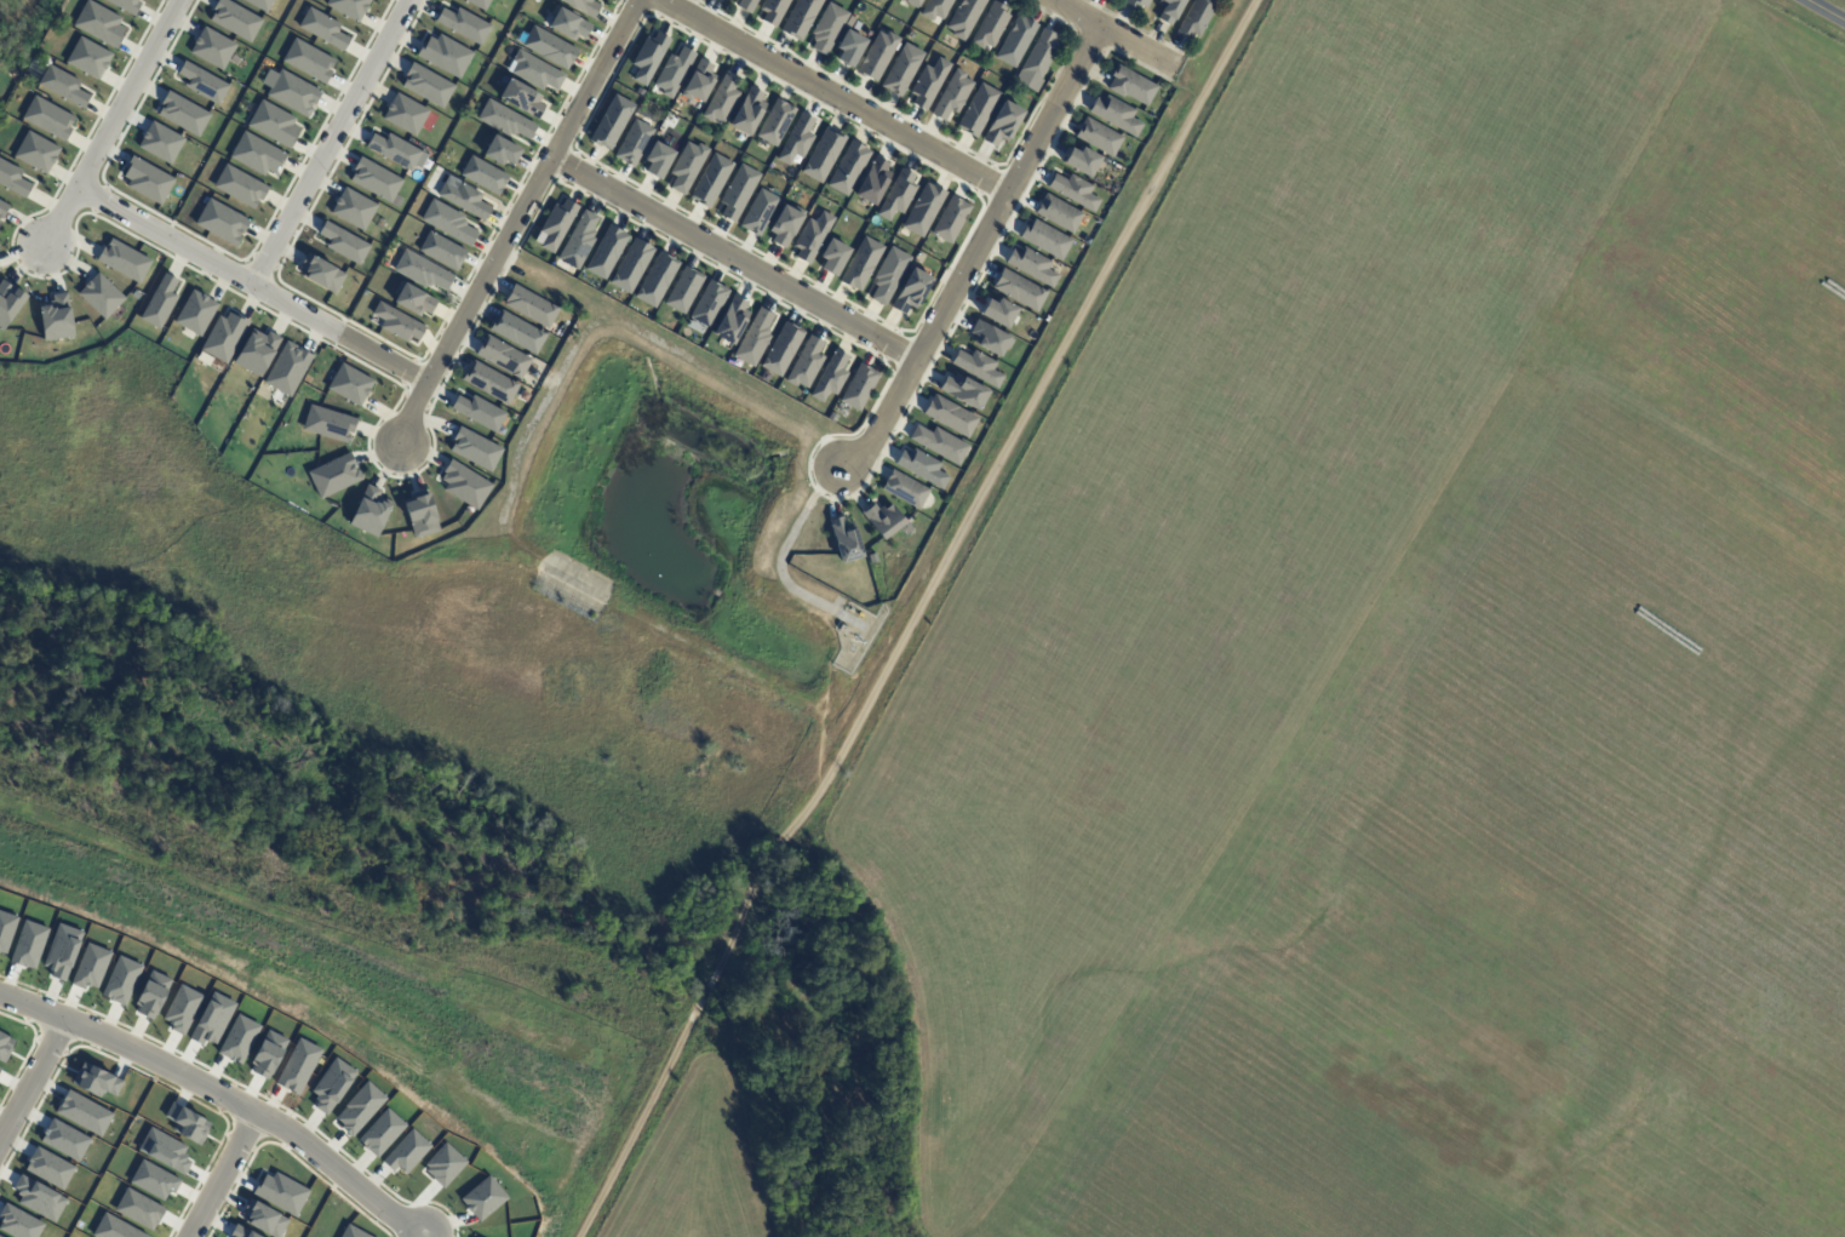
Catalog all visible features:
building: (912, 2)
building: (1136, 2)
building: (259, 4)
building: (480, 4)
building: (126, 5)
building: (746, 5)
building: (583, 6)
building: (349, 7)
building: (936, 8)
road: (1829, 8)
building: (1168, 10)
building: (772, 11)
building: (964, 17)
building: (800, 18)
building: (1196, 18)
building: (235, 19)
building: (99, 23)
building: (463, 24)
building: (568, 24)
building: (991, 25)
building: (826, 28)
building: (323, 29)
road: (1108, 35)
building: (1015, 41)
building: (549, 47)
building: (849, 47)
building: (212, 48)
building: (445, 55)
building: (877, 55)
building: (648, 57)
building: (88, 58)
building: (309, 61)
building: (1038, 61)
building: (901, 69)
building: (533, 71)
building: (672, 71)
building: (15, 74)
building: (698, 81)
building: (202, 82)
building: (928, 82)
building: (426, 85)
building: (1130, 85)
building: (63, 86)
building: (291, 92)
building: (952, 95)
road: (830, 96)
building: (521, 98)
building: (721, 98)
building: (978, 110)
building: (747, 111)
building: (182, 114)
building: (408, 115)
building: (1115, 115)
building: (48, 118)
building: (505, 120)
building: (774, 121)
road: (114, 122)
building: (611, 122)
building: (273, 124)
building: (1002, 124)
building: (1099, 137)
building: (796, 139)
building: (160, 142)
road: (331, 142)
building: (632, 142)
building: (394, 150)
building: (500, 150)
building: (36, 151)
building: (257, 154)
building: (823, 155)
building: (657, 160)
building: (1102, 160)
building: (1081, 161)
building: (686, 166)
building: (847, 167)
building: (485, 176)
building: (12, 179)
building: (376, 179)
building: (147, 181)
building: (710, 181)
building: (872, 181)
building: (240, 187)
building: (1073, 190)
building: (737, 191)
building: (896, 195)
building: (463, 197)
building: (2, 208)
building: (353, 208)
building: (923, 210)
building: (758, 212)
building: (1059, 213)
road: (515, 219)
building: (950, 219)
building: (220, 222)
building: (448, 222)
building: (785, 224)
building: (555, 225)
building: (810, 236)
building: (1045, 239)
building: (578, 241)
building: (343, 242)
building: (441, 251)
building: (605, 252)
road: (972, 252)
building: (832, 256)
road: (732, 259)
building: (124, 260)
building: (860, 263)
building: (631, 265)
building: (1032, 265)
building: (422, 270)
building: (321, 274)
building: (888, 275)
building: (655, 280)
road: (252, 285)
building: (683, 290)
building: (1019, 290)
building: (910, 291)
building: (136, 294)
building: (101, 296)
building: (413, 299)
building: (8, 302)
building: (159, 303)
building: (709, 304)
building: (531, 307)
building: (998, 311)
building: (196, 313)
building: (56, 317)
building: (730, 321)
building: (397, 323)
building: (517, 332)
building: (223, 337)
building: (754, 338)
building: (990, 338)
building: (781, 349)
building: (257, 351)
building: (503, 356)
building: (804, 362)
building: (978, 367)
building: (287, 370)
building: (763, 376)
building: (829, 377)
building: (489, 383)
building: (349, 384)
building: (858, 386)
building: (963, 390)
building: (523, 396)
building: (479, 412)
building: (950, 416)
building: (831, 417)
building: (327, 424)
building: (940, 443)
building: (475, 448)
building: (921, 466)
building: (333, 475)
building: (464, 485)
building: (905, 489)
building: (369, 511)
building: (420, 514)
building: (882, 519)
building: (844, 538)
road: (916, 623)
building: (843, 629)
building: (5, 929)
building: (28, 944)
building: (62, 951)
building: (90, 966)
building: (121, 980)
building: (151, 995)
building: (181, 1008)
building: (211, 1019)
building: (239, 1040)
building: (5, 1047)
building: (267, 1054)
building: (297, 1066)
building: (94, 1081)
road: (34, 1082)
building: (331, 1086)
road: (220, 1094)
building: (360, 1107)
building: (84, 1113)
building: (187, 1123)
building: (380, 1132)
building: (64, 1139)
building: (164, 1150)
building: (405, 1152)
crop: (695, 1163)
building: (443, 1164)
building: (48, 1168)
road: (224, 1175)
building: (154, 1180)
building: (281, 1192)
building: (38, 1198)
building: (483, 1198)
building: (138, 1209)
building: (263, 1219)
building: (18, 1222)
building: (114, 1227)
building: (240, 1232)
building: (351, 1232)
building: (0, 1236)

